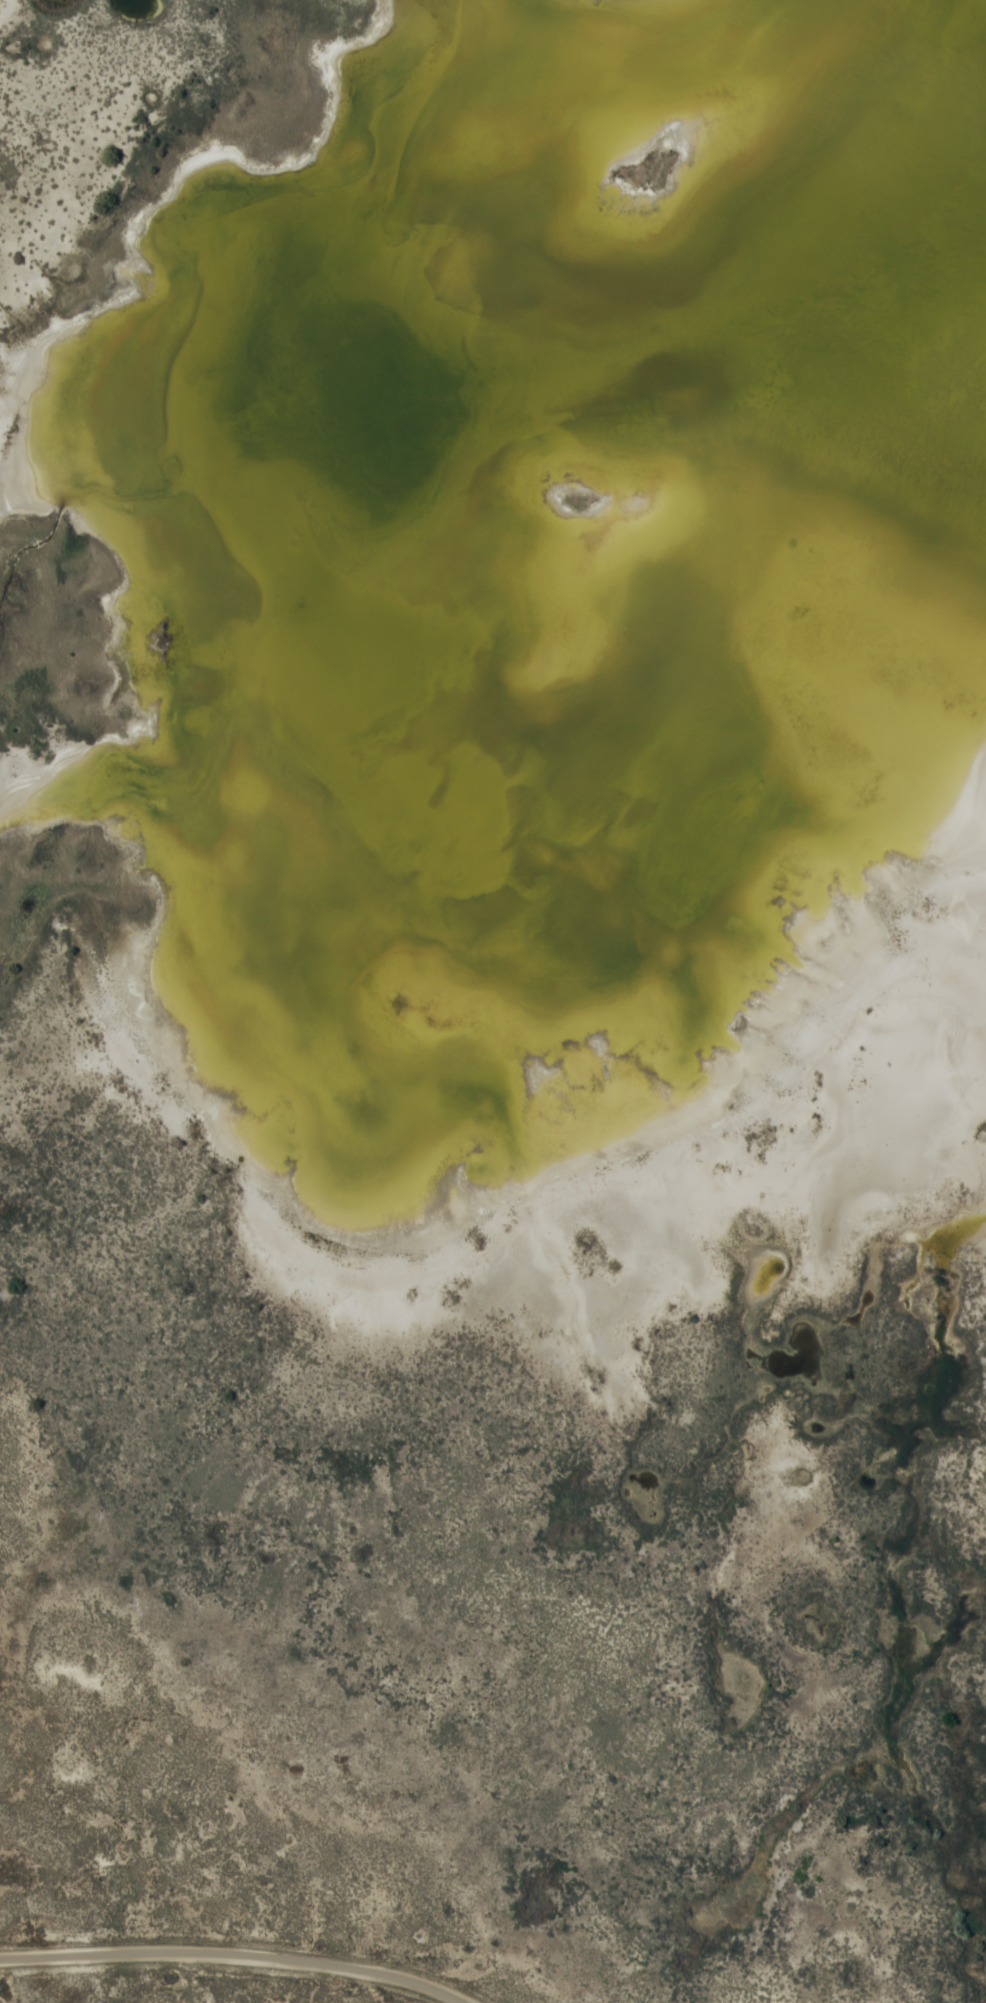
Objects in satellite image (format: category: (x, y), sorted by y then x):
river: (22, 556)
road: (732, 1760)
road: (243, 1953)

